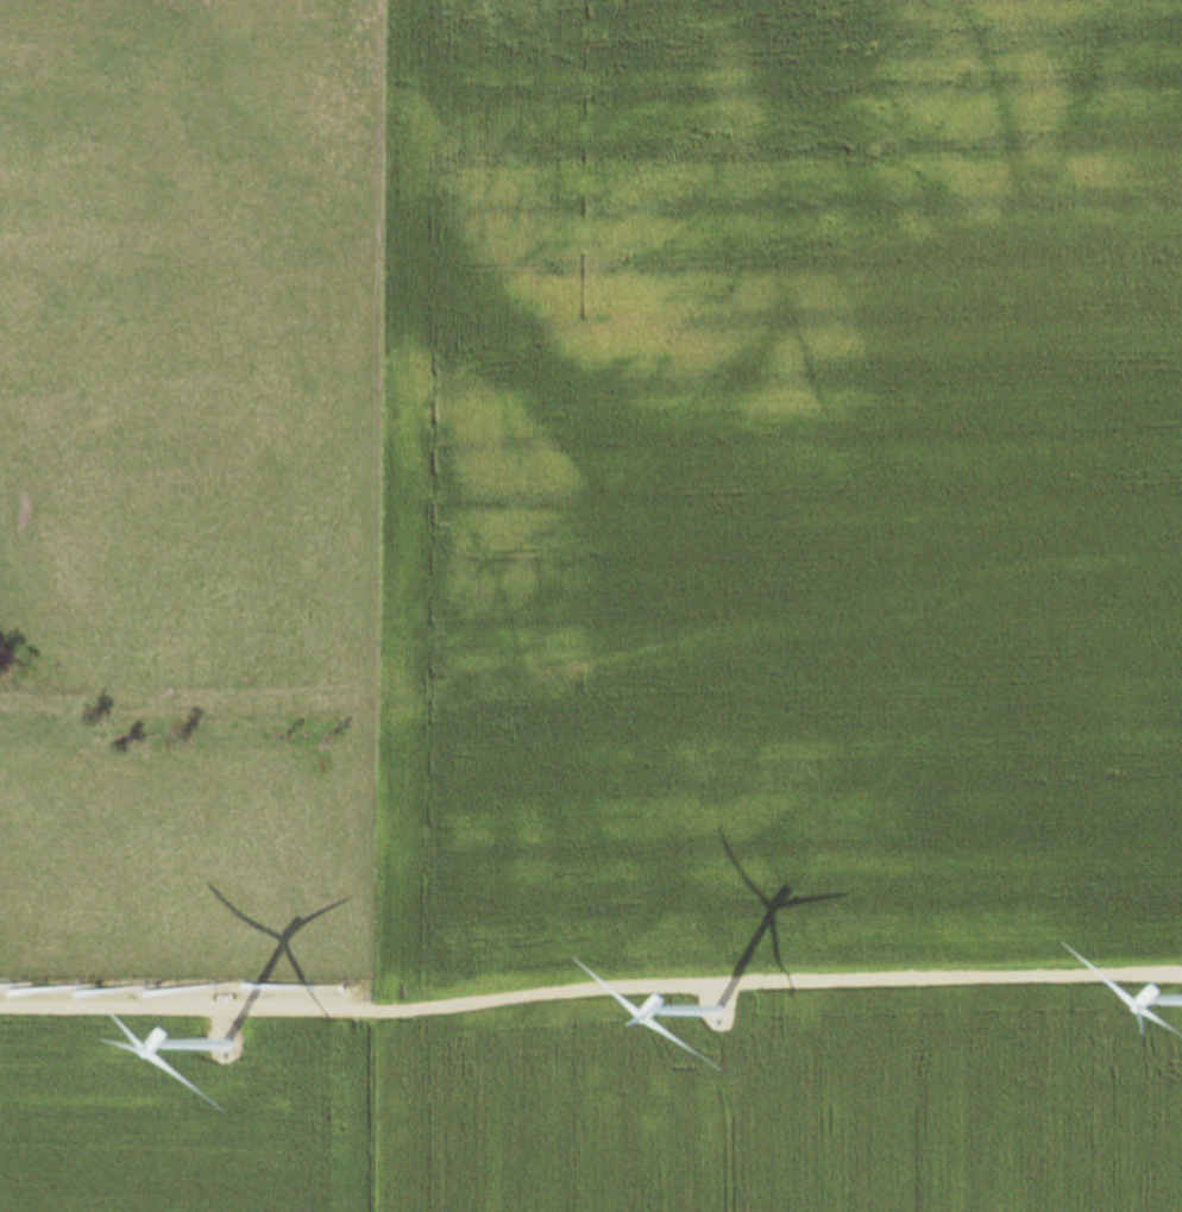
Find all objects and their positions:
road: (590, 996)
wind turbine: (724, 1030)
wind turbine: (225, 1059)

